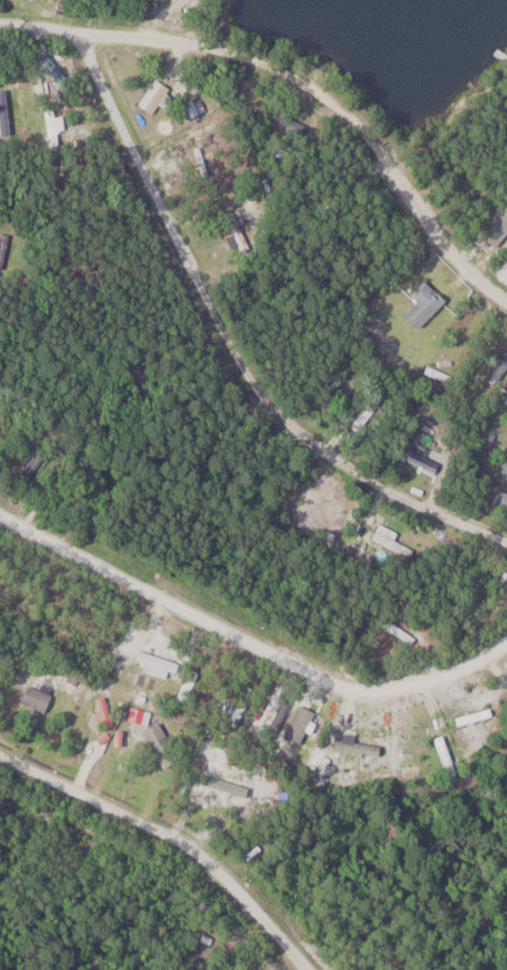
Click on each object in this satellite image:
road: (301, 76)
road: (505, 93)
building: (158, 95)
building: (4, 112)
building: (238, 233)
building: (5, 246)
building: (427, 303)
road: (232, 344)
building: (444, 375)
building: (367, 412)
building: (422, 459)
building: (34, 467)
building: (502, 499)
building: (71, 504)
building: (396, 541)
building: (403, 634)
road: (248, 638)
building: (162, 661)
building: (189, 685)
building: (39, 697)
building: (477, 717)
building: (164, 745)
building: (448, 756)
road: (169, 841)
road: (500, 962)

